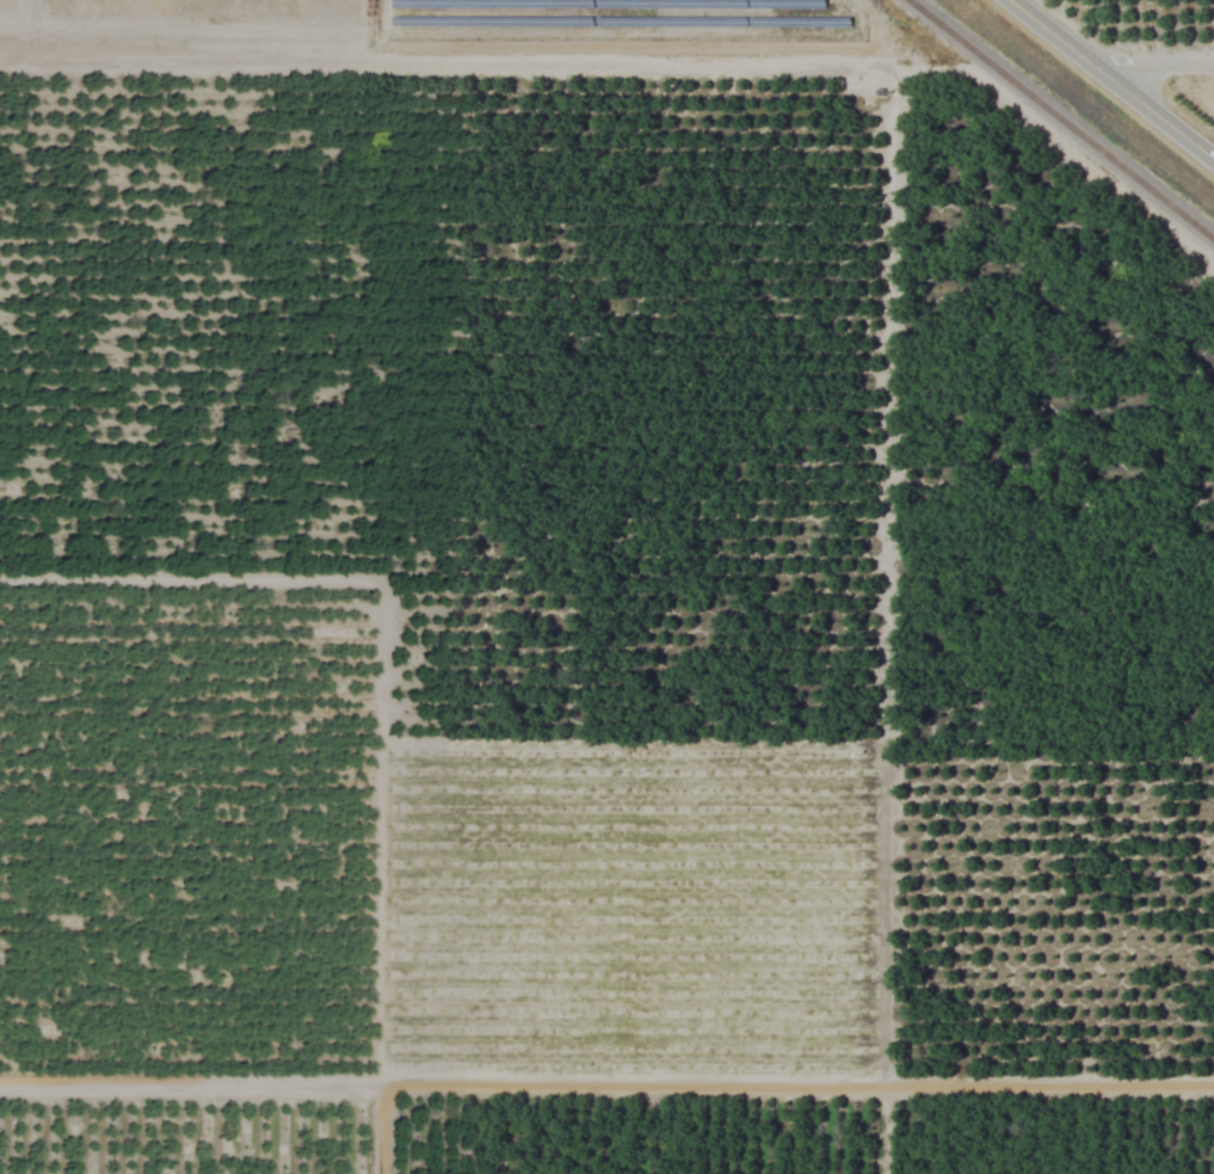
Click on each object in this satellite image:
road: (409, 64)
road: (1154, 67)
road: (1110, 80)
railway: (1060, 121)
building: (153, 462)
building: (286, 468)
crop: (606, 586)

